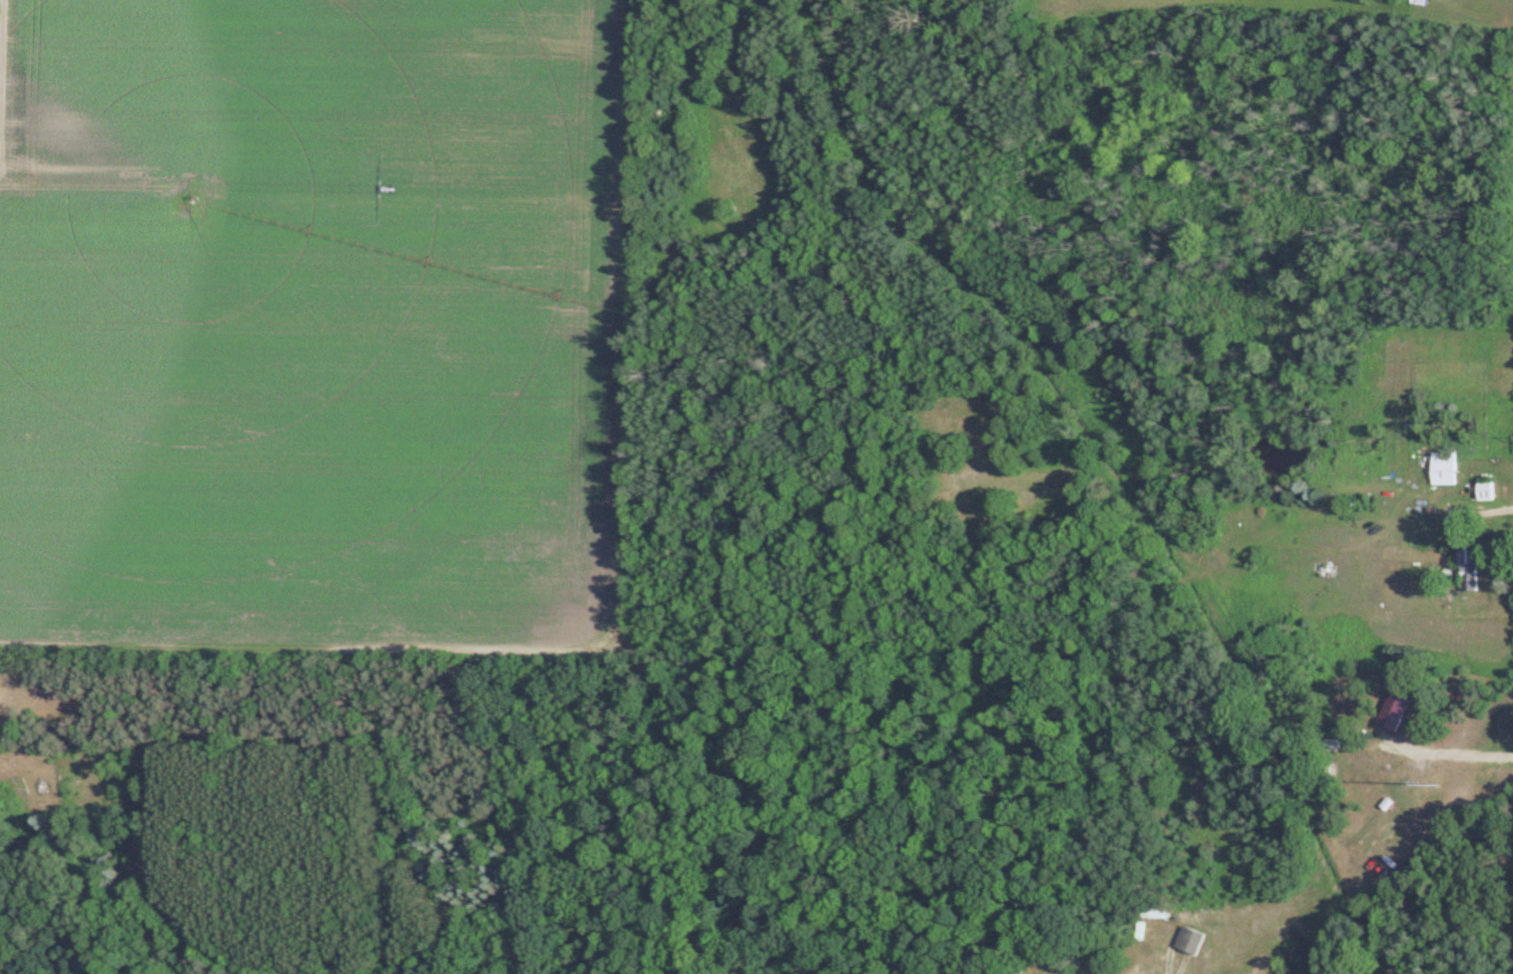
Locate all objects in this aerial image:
crop: (311, 313)
building: (1440, 469)
building: (1481, 491)
road: (1485, 508)
building: (1465, 571)
building: (1392, 713)
road: (1447, 750)
building: (1187, 942)

